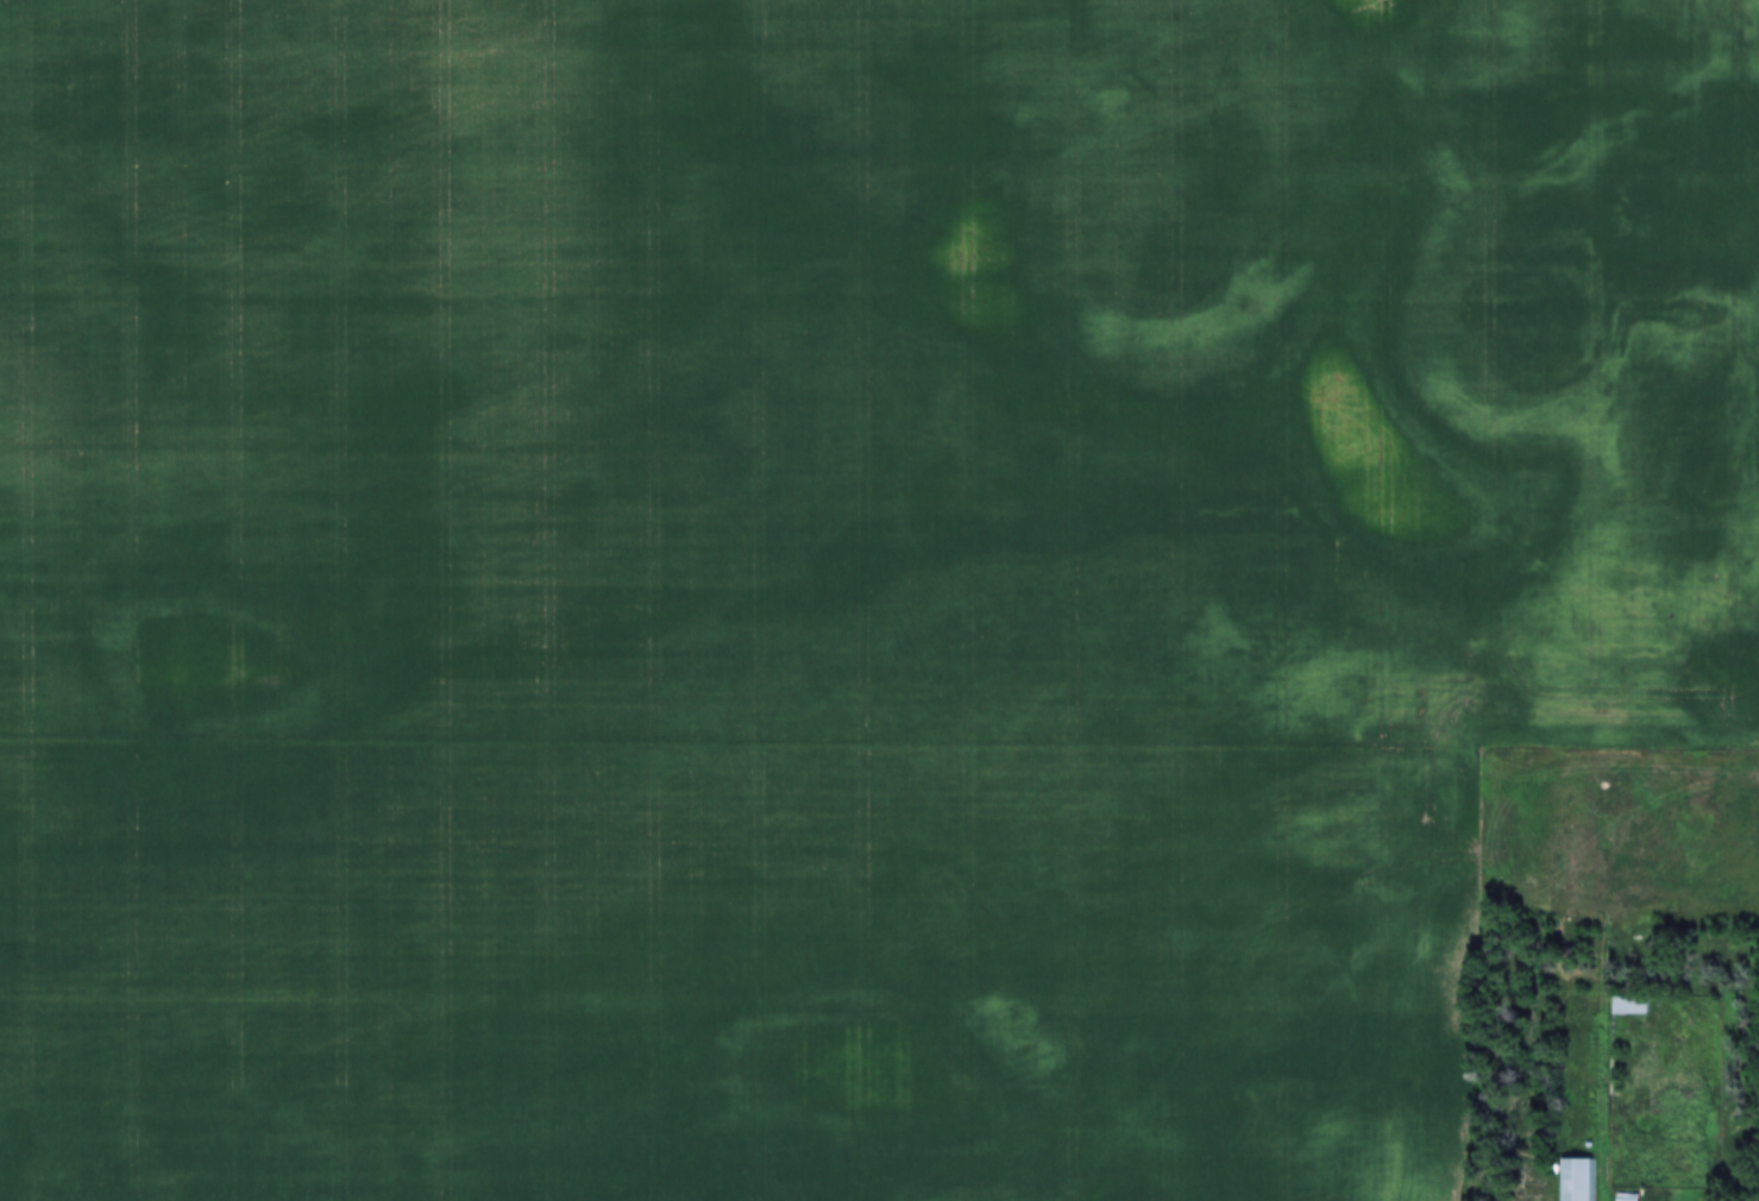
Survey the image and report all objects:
building: (1629, 1005)
building: (1576, 1178)

